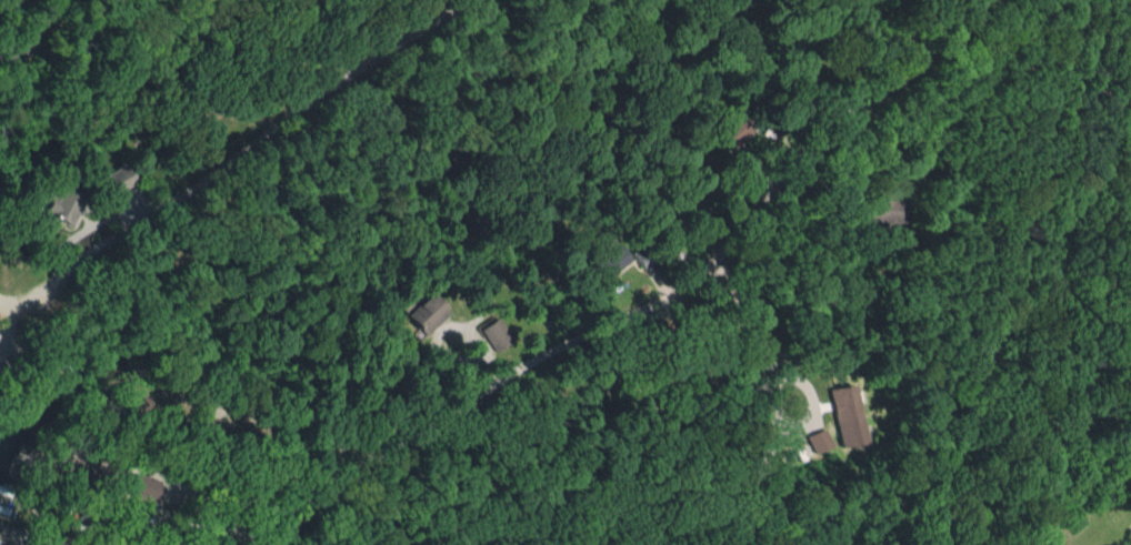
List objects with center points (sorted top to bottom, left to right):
road: (40, 36)
road: (314, 102)
building: (729, 131)
building: (114, 179)
building: (58, 206)
building: (879, 213)
building: (610, 261)
road: (645, 300)
building: (424, 313)
building: (494, 334)
road: (772, 407)
building: (843, 415)
building: (814, 441)
building: (141, 485)
road: (233, 496)

